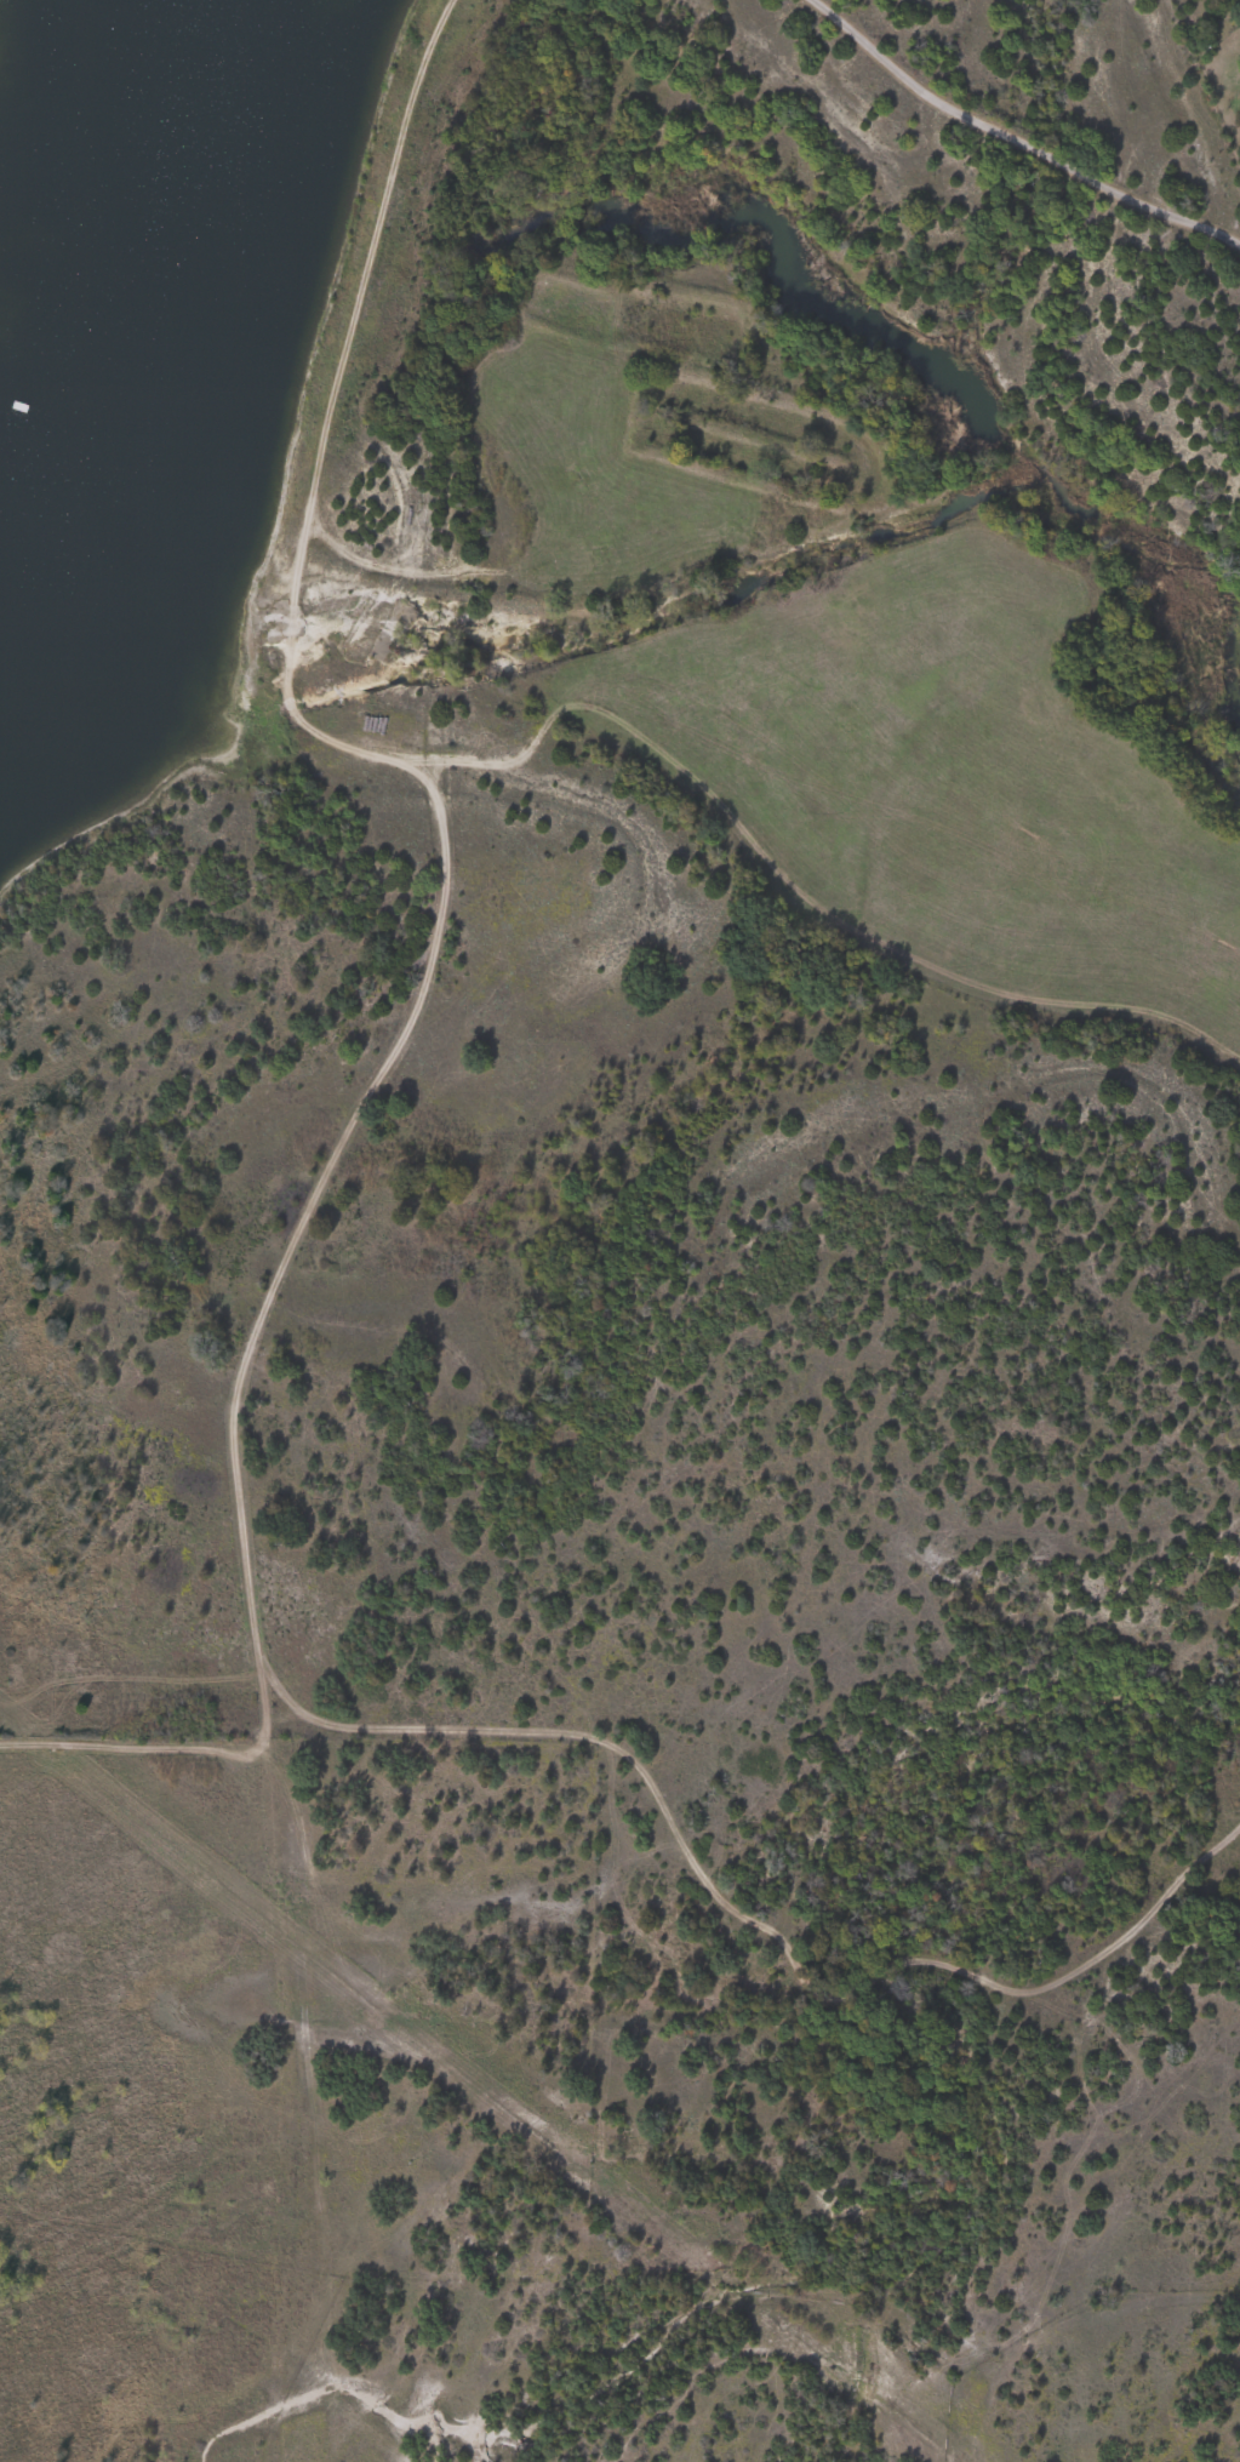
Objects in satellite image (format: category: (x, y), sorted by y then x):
road: (1011, 143)
road: (434, 859)
road: (147, 1716)

